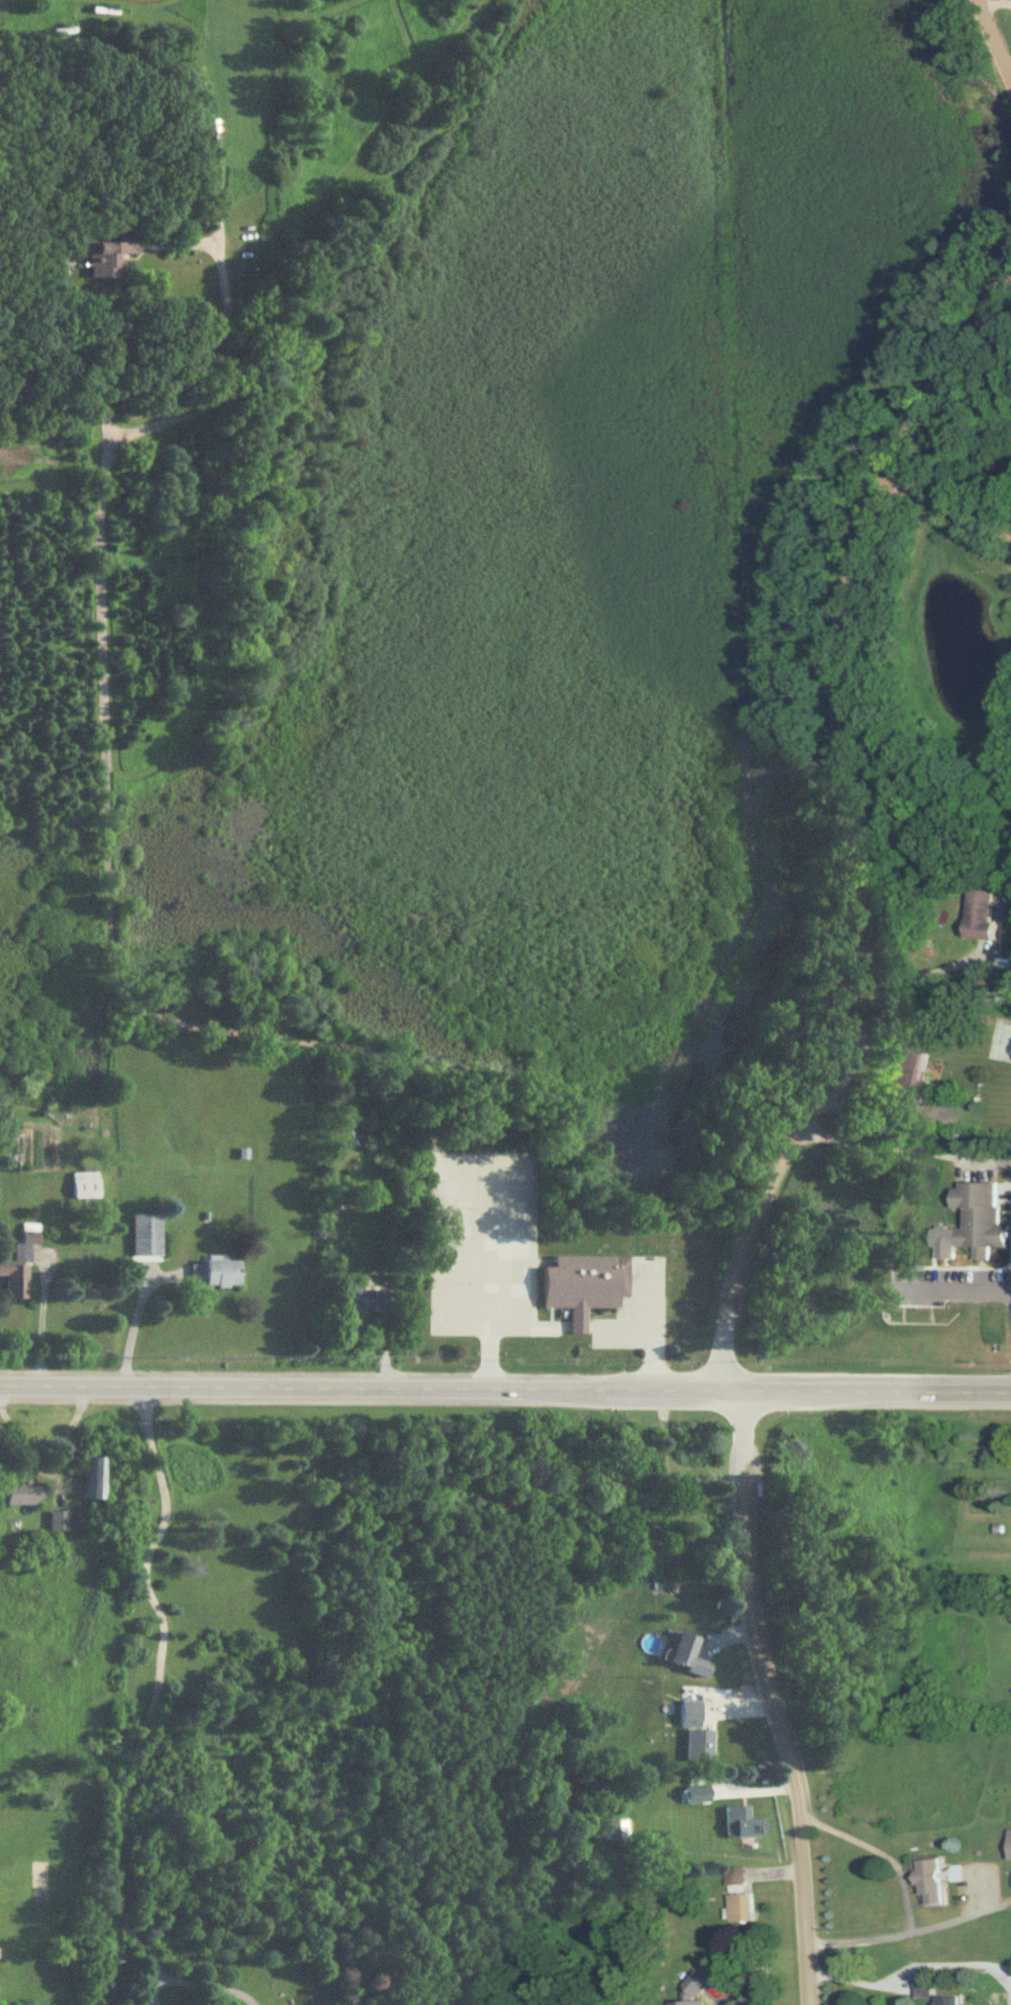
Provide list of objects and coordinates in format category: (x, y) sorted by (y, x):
road: (993, 5)
road: (991, 43)
building: (112, 258)
road: (71, 392)
road: (945, 506)
road: (107, 859)
building: (985, 913)
road: (910, 974)
building: (909, 1076)
road: (791, 1116)
road: (901, 1146)
building: (85, 1186)
building: (978, 1218)
building: (147, 1236)
building: (20, 1265)
building: (216, 1275)
building: (585, 1287)
road: (974, 1292)
building: (370, 1301)
road: (41, 1317)
road: (132, 1318)
road: (616, 1324)
road: (526, 1325)
road: (575, 1325)
road: (648, 1325)
road: (505, 1386)
road: (44, 1462)
building: (95, 1479)
building: (24, 1495)
building: (59, 1521)
building: (687, 1656)
road: (155, 1679)
building: (696, 1734)
building: (698, 1794)
building: (745, 1828)
building: (614, 1832)
building: (1009, 1844)
building: (741, 1877)
building: (936, 1881)
road: (907, 1885)
building: (745, 1908)
building: (928, 1980)
road: (203, 1985)
road: (151, 1987)
building: (709, 1987)
building: (956, 2001)

